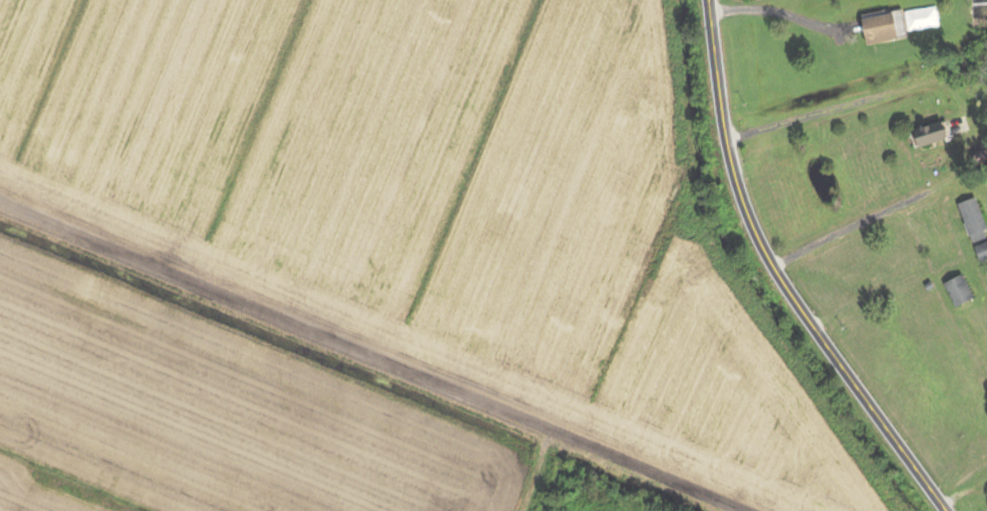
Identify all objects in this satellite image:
building: (879, 27)
road: (967, 118)
building: (923, 135)
building: (970, 220)
building: (980, 251)
crop: (374, 262)
road: (780, 276)
building: (955, 289)
road: (314, 333)
road: (646, 472)

